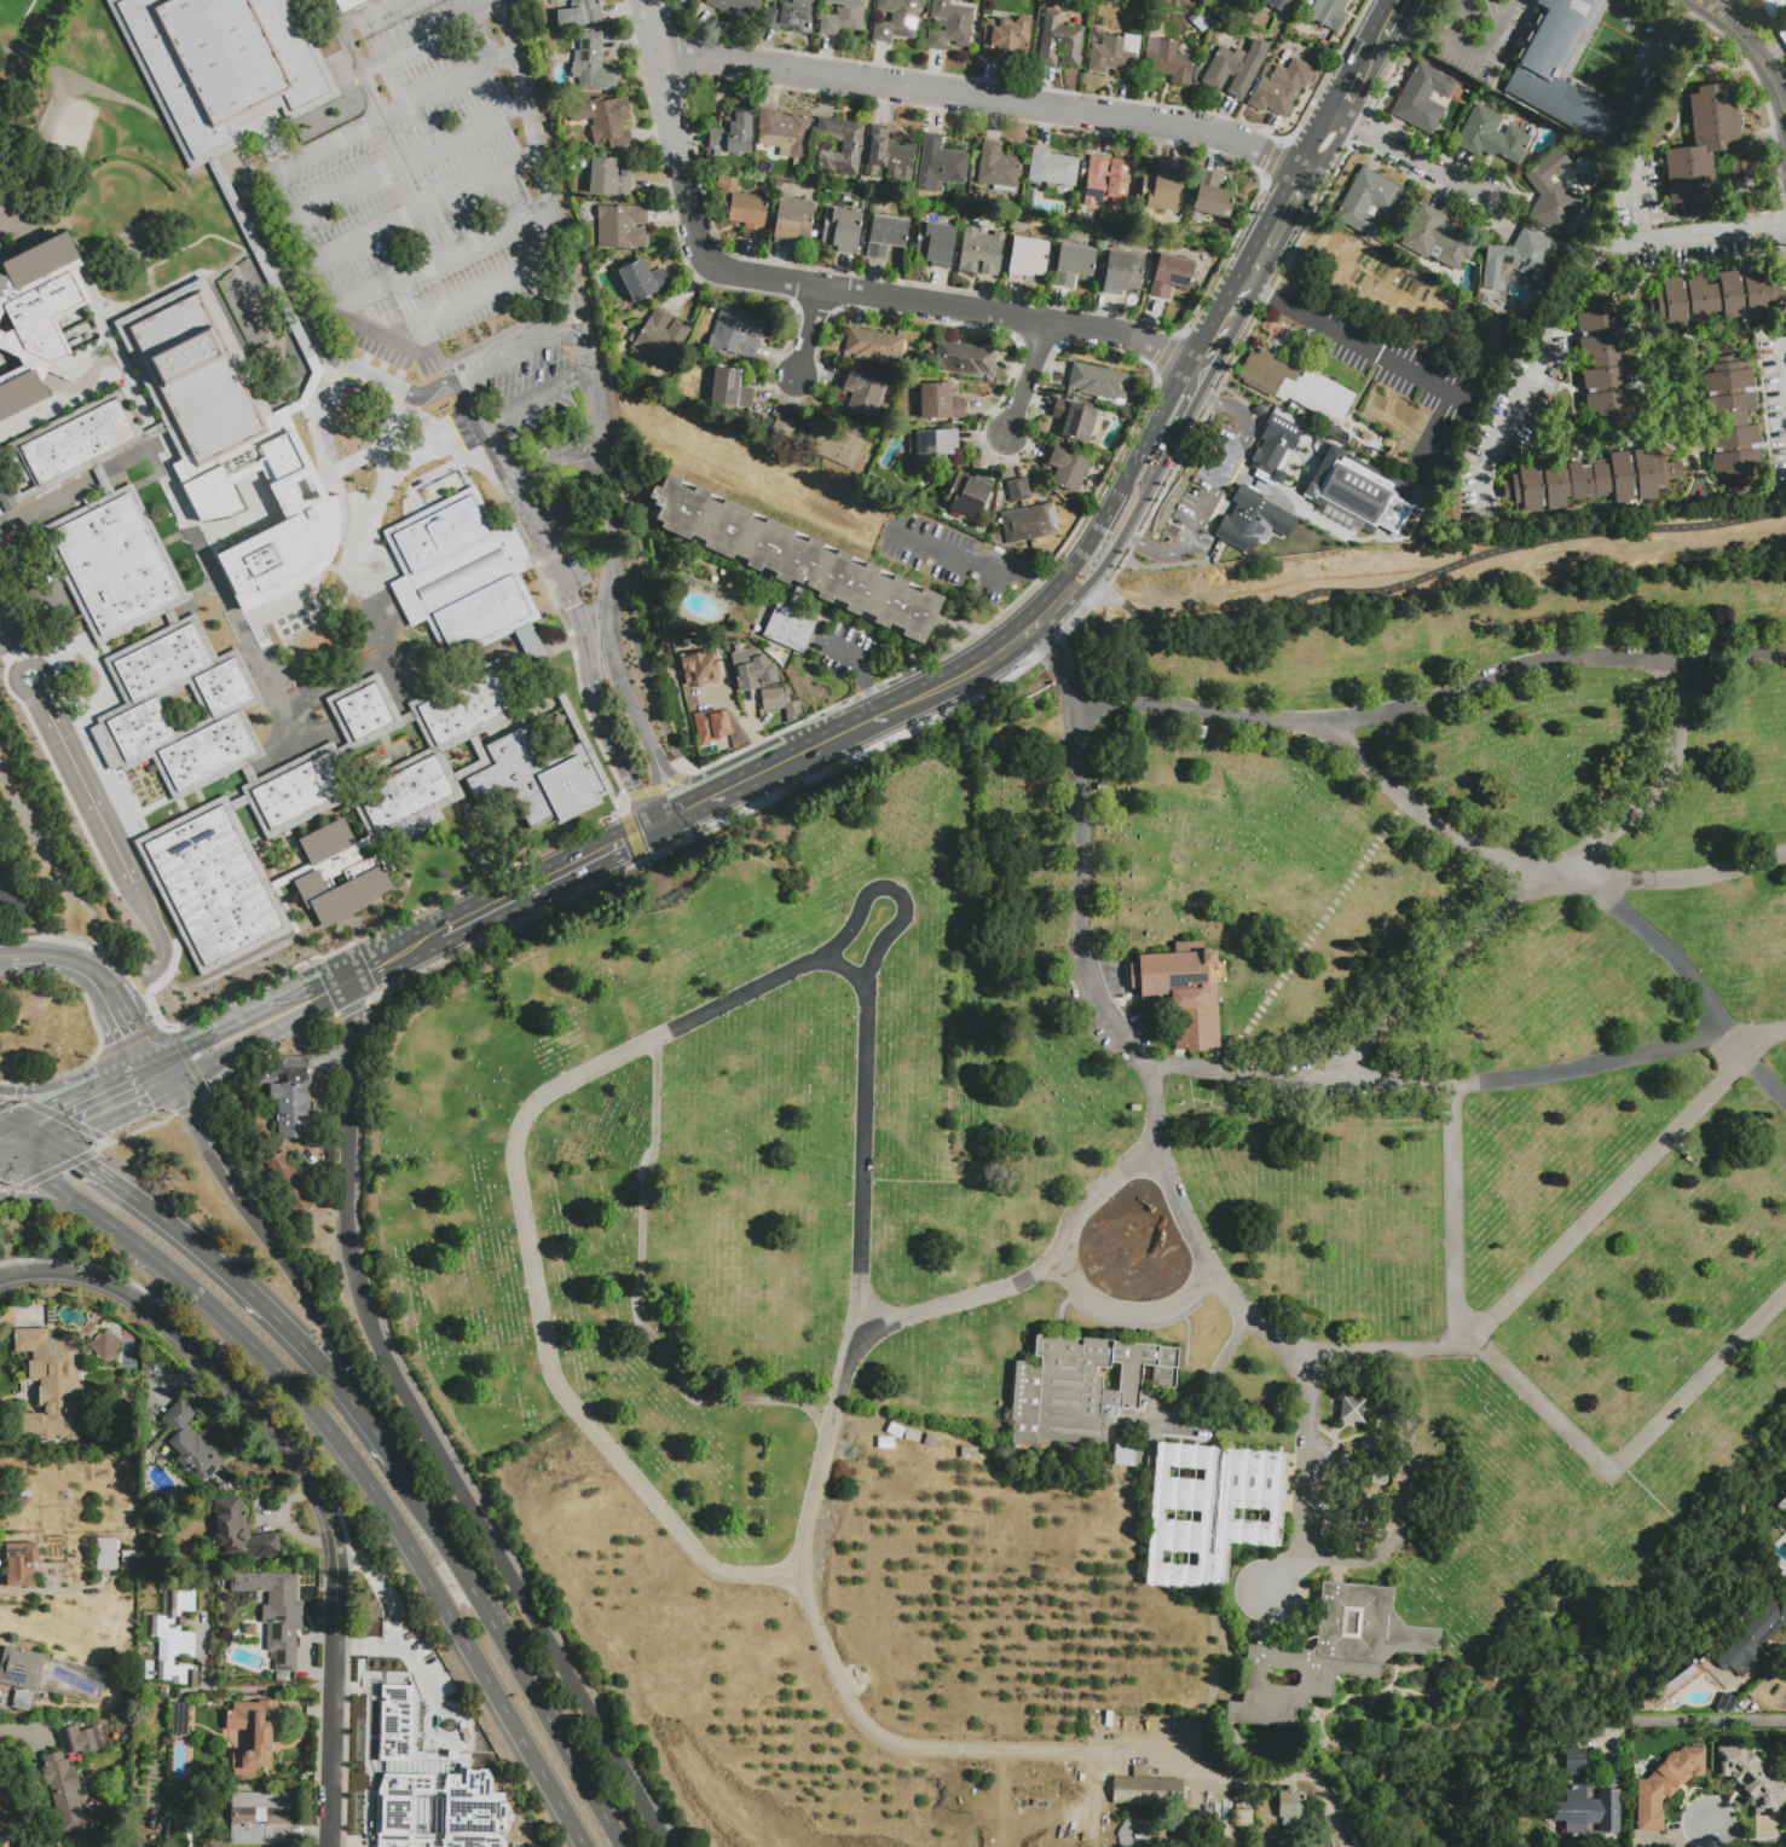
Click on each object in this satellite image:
building: (342, 1)
building: (1281, 5)
building: (739, 7)
building: (1773, 7)
road: (333, 10)
building: (1329, 12)
building: (582, 13)
building: (792, 15)
building: (843, 16)
building: (896, 19)
road: (1386, 19)
road: (1721, 21)
building: (950, 23)
road: (340, 24)
road: (371, 36)
building: (1784, 37)
building: (1005, 39)
building: (1058, 41)
road: (411, 47)
road: (1475, 47)
building: (1115, 53)
building: (1169, 63)
building: (593, 64)
building: (224, 65)
building: (1233, 68)
building: (1538, 69)
road: (1354, 79)
road: (1771, 80)
road: (393, 85)
building: (1281, 87)
road: (109, 93)
building: (1423, 97)
road: (981, 99)
building: (611, 122)
building: (732, 134)
building: (784, 135)
building: (1491, 135)
road: (241, 140)
road: (271, 143)
building: (842, 146)
road: (1308, 148)
building: (1707, 151)
road: (35, 154)
building: (889, 155)
road: (1323, 156)
road: (1415, 161)
road: (300, 162)
road: (401, 162)
road: (542, 162)
building: (940, 165)
building: (998, 166)
building: (1052, 167)
building: (608, 178)
building: (1105, 183)
building: (1160, 190)
building: (1551, 194)
building: (1213, 196)
building: (1366, 201)
road: (221, 203)
building: (742, 207)
road: (418, 210)
road: (1647, 210)
building: (1099, 217)
building: (792, 221)
building: (1110, 221)
building: (622, 226)
building: (842, 229)
road: (1270, 233)
building: (885, 236)
building: (1437, 237)
building: (935, 242)
parking lot: (437, 244)
building: (981, 252)
building: (1027, 258)
building: (1516, 259)
road: (439, 260)
building: (1073, 264)
building: (1121, 272)
building: (1169, 276)
building: (642, 279)
building: (267, 281)
road: (827, 288)
road: (1231, 293)
building: (1715, 296)
road: (1573, 298)
road: (456, 304)
building: (36, 318)
road: (1232, 321)
road: (809, 331)
building: (738, 333)
road: (1203, 335)
road: (541, 337)
building: (659, 339)
building: (874, 347)
road: (1386, 356)
building: (1757, 357)
building: (1605, 359)
building: (965, 362)
building: (833, 371)
road: (1206, 371)
building: (198, 379)
road: (1034, 380)
building: (1296, 381)
building: (1102, 385)
building: (729, 387)
road: (403, 392)
road: (534, 393)
building: (861, 393)
building: (941, 403)
road: (1164, 406)
building: (1291, 408)
building: (1299, 412)
building: (1307, 417)
building: (1074, 419)
building: (1733, 422)
building: (781, 429)
building: (155, 432)
building: (1539, 433)
building: (833, 444)
building: (935, 446)
road: (1166, 446)
building: (69, 448)
building: (1272, 449)
road: (555, 462)
building: (1064, 467)
building: (247, 473)
building: (1589, 479)
building: (103, 480)
building: (1018, 489)
road: (1207, 490)
building: (1357, 494)
building: (967, 496)
road: (44, 502)
building: (1451, 512)
road: (1105, 516)
building: (1252, 520)
building: (1029, 523)
building: (439, 531)
building: (283, 548)
road: (1106, 550)
building: (999, 552)
road: (1092, 553)
parking lot: (944, 554)
building: (794, 559)
building: (115, 565)
road: (977, 565)
road: (1434, 572)
building: (461, 575)
road: (1089, 589)
road: (1080, 595)
building: (172, 617)
building: (482, 618)
road: (1035, 621)
building: (683, 623)
building: (791, 630)
road: (972, 634)
road: (1551, 660)
building: (700, 669)
building: (752, 671)
road: (862, 674)
road: (949, 680)
building: (781, 705)
building: (225, 708)
building: (466, 708)
building: (366, 712)
road: (741, 721)
road: (859, 722)
building: (711, 726)
road: (763, 769)
building: (249, 773)
building: (533, 778)
road: (675, 778)
road: (1652, 783)
road: (631, 784)
traffic signals: (632, 787)
road: (657, 789)
building: (300, 791)
road: (655, 791)
building: (410, 797)
building: (238, 803)
road: (94, 809)
road: (122, 810)
road: (678, 810)
traffic signals: (674, 814)
road: (630, 837)
traffic signals: (623, 841)
building: (335, 872)
road: (1686, 877)
building: (214, 885)
road: (526, 888)
road: (6, 890)
road: (894, 891)
road: (80, 902)
road: (399, 914)
road: (5, 956)
road: (74, 962)
road: (374, 964)
road: (799, 968)
road: (1438, 975)
building: (1184, 991)
road: (261, 1010)
road: (1707, 1011)
road: (128, 1020)
road: (273, 1029)
traffic signals: (134, 1032)
road: (127, 1040)
traffic signals: (185, 1046)
road: (148, 1049)
road: (181, 1052)
road: (168, 1055)
road: (148, 1067)
road: (59, 1074)
road: (166, 1074)
road: (1764, 1078)
road: (68, 1079)
road: (1466, 1080)
road: (185, 1081)
road: (110, 1085)
road: (200, 1089)
building: (289, 1093)
road: (15, 1099)
traffic signals: (150, 1102)
road: (189, 1108)
road: (50, 1110)
traffic signals: (53, 1110)
traffic signals: (190, 1113)
road: (115, 1116)
road: (191, 1116)
road: (8, 1119)
road: (60, 1119)
road: (8, 1127)
road: (134, 1131)
road: (36, 1133)
road: (33, 1153)
road: (5, 1159)
traffic signals: (81, 1162)
road: (5, 1165)
road: (86, 1165)
road: (54, 1170)
road: (5, 1185)
building: (291, 1187)
road: (10, 1196)
road: (46, 1201)
road: (4, 1205)
road: (1451, 1213)
park: (1144, 1225)
road: (1190, 1291)
road: (634, 1294)
road: (305, 1297)
road: (265, 1309)
building: (106, 1347)
building: (53, 1387)
building: (1080, 1389)
road: (241, 1398)
building: (1352, 1409)
building: (883, 1421)
road: (426, 1435)
building: (914, 1436)
building: (891, 1442)
building: (190, 1443)
building: (934, 1443)
building: (1126, 1451)
road: (822, 1453)
road: (1308, 1454)
road: (1631, 1455)
road: (349, 1458)
building: (224, 1489)
building: (1212, 1512)
building: (1785, 1526)
building: (239, 1534)
building: (106, 1554)
building: (127, 1558)
building: (21, 1564)
road: (53, 1589)
building: (1782, 1608)
building: (277, 1612)
building: (174, 1639)
building: (1750, 1644)
road: (509, 1649)
building: (1328, 1653)
crop: (890, 1657)
building: (51, 1675)
road: (243, 1689)
building: (22, 1701)
building: (1726, 1703)
building: (179, 1719)
road: (1711, 1720)
building: (394, 1721)
road: (24, 1731)
building: (249, 1736)
building: (79, 1741)
road: (330, 1751)
building: (1143, 1770)
road: (1254, 1778)
building: (1752, 1780)
building: (1666, 1784)
building: (1149, 1791)
building: (68, 1794)
building: (1584, 1801)
building: (1291, 1808)
building: (439, 1812)
building: (261, 1818)
building: (1244, 1822)
building: (156, 1823)
building: (183, 1826)
building: (1138, 1835)
road: (1740, 1842)

